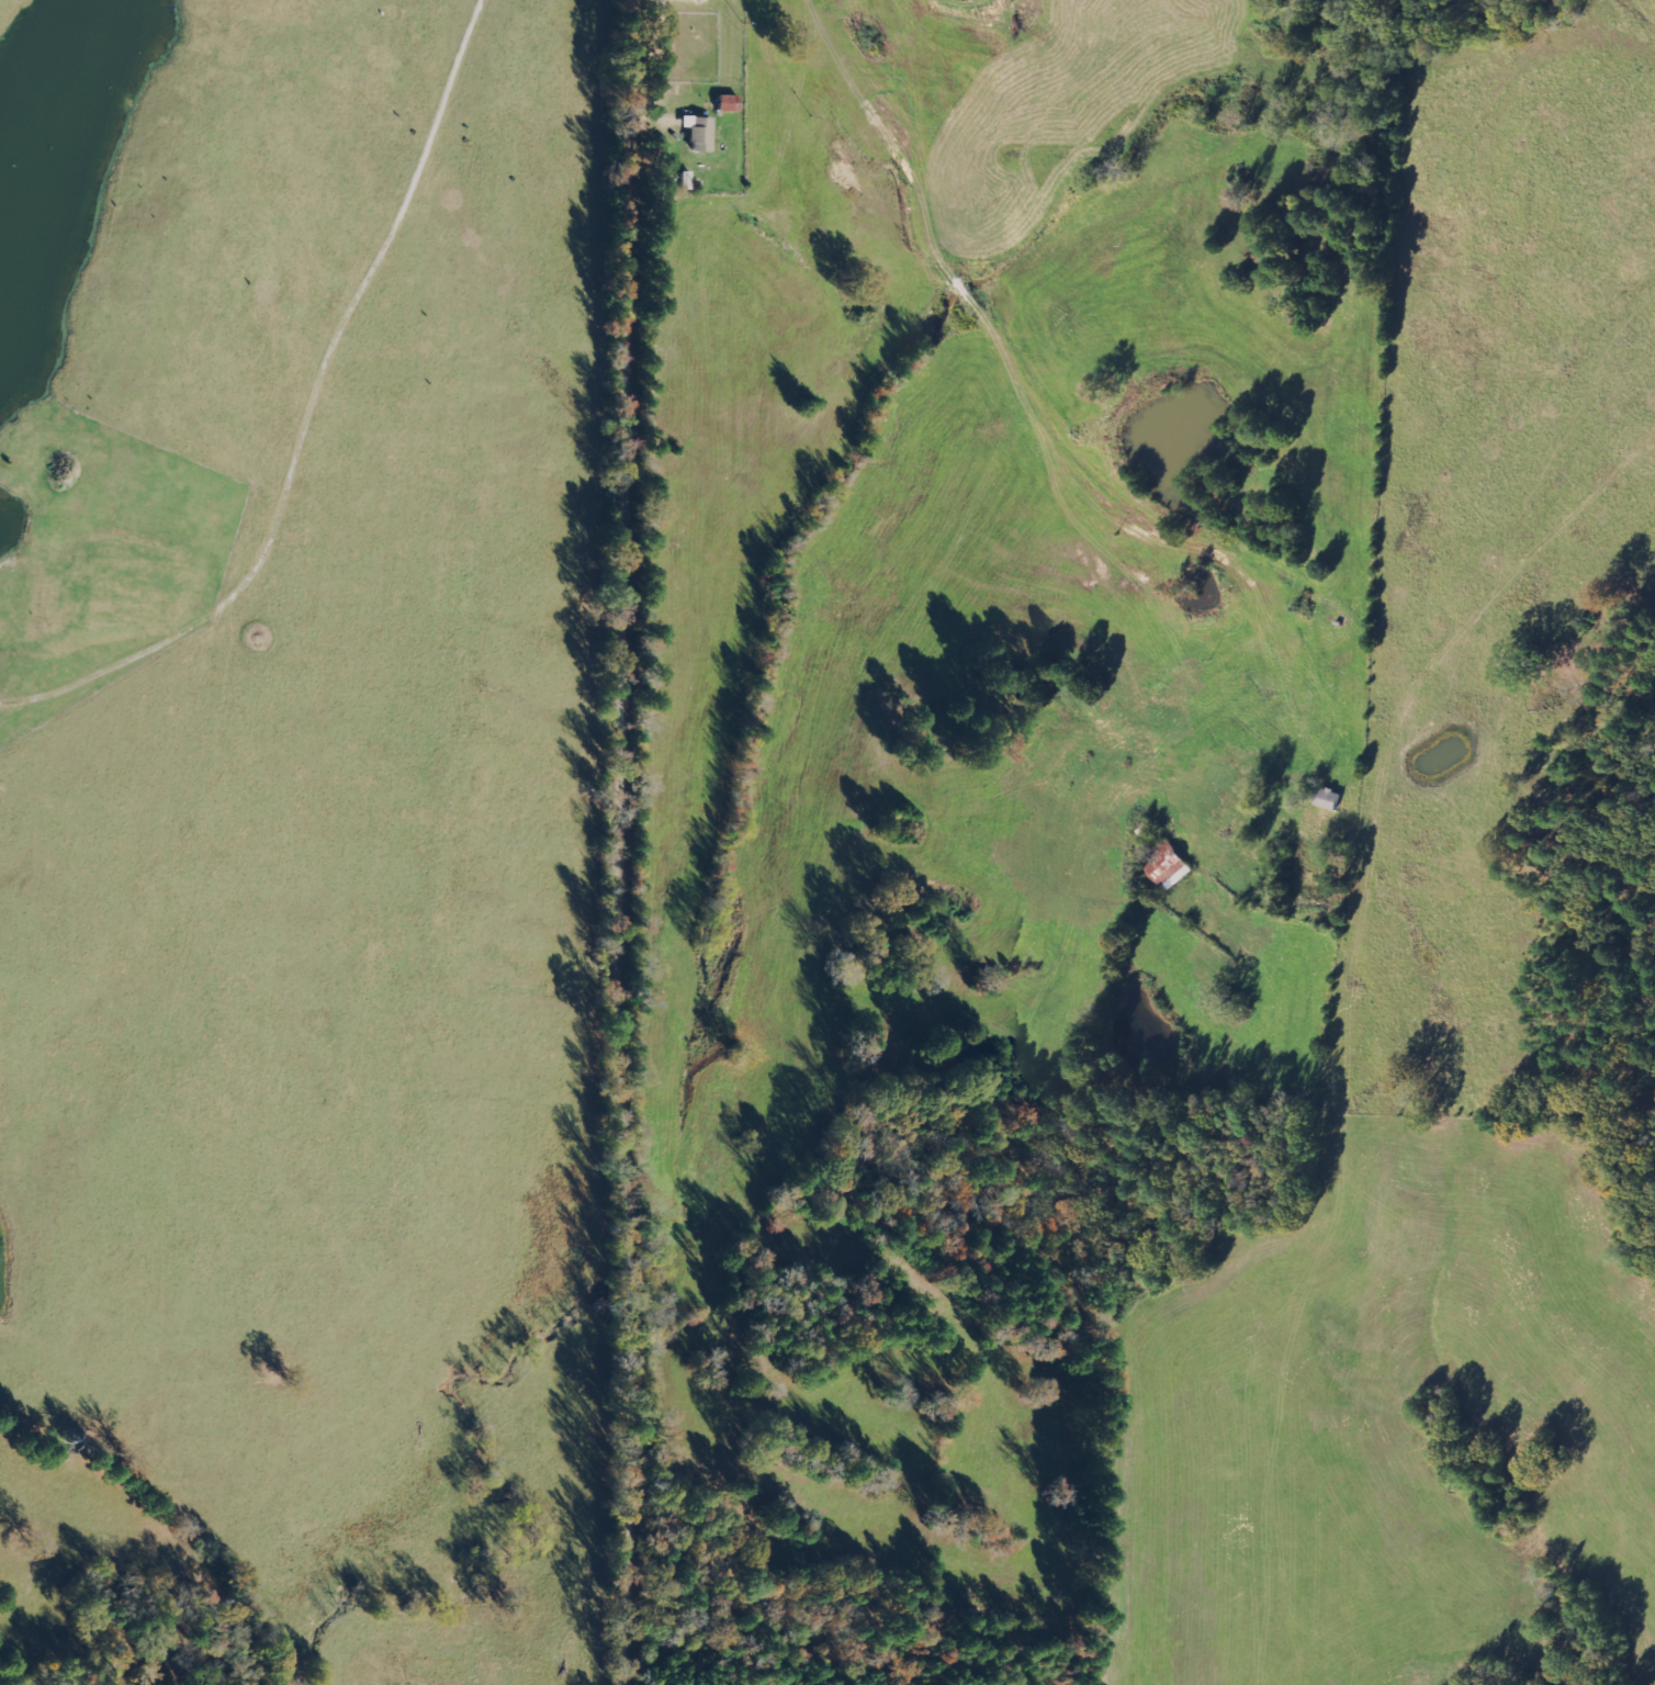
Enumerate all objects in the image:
building: (698, 133)
building: (1327, 798)
road: (628, 842)
building: (1168, 866)

